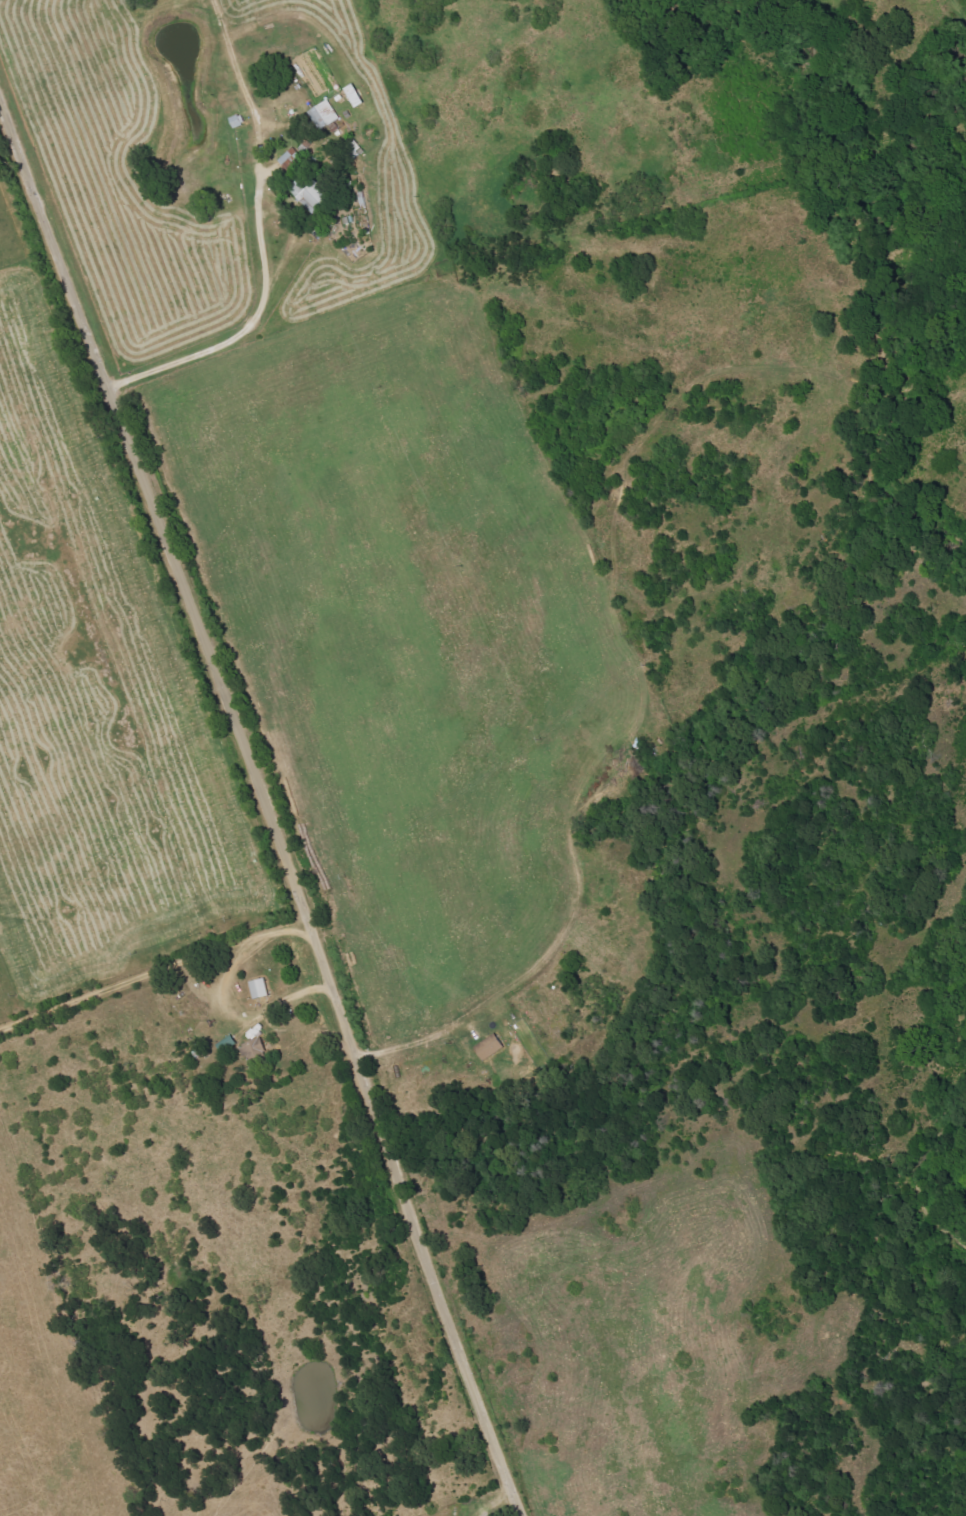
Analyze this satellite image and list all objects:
road: (251, 109)
building: (325, 114)
building: (308, 193)
road: (261, 285)
road: (269, 811)
building: (260, 988)
road: (222, 992)
building: (490, 1046)

